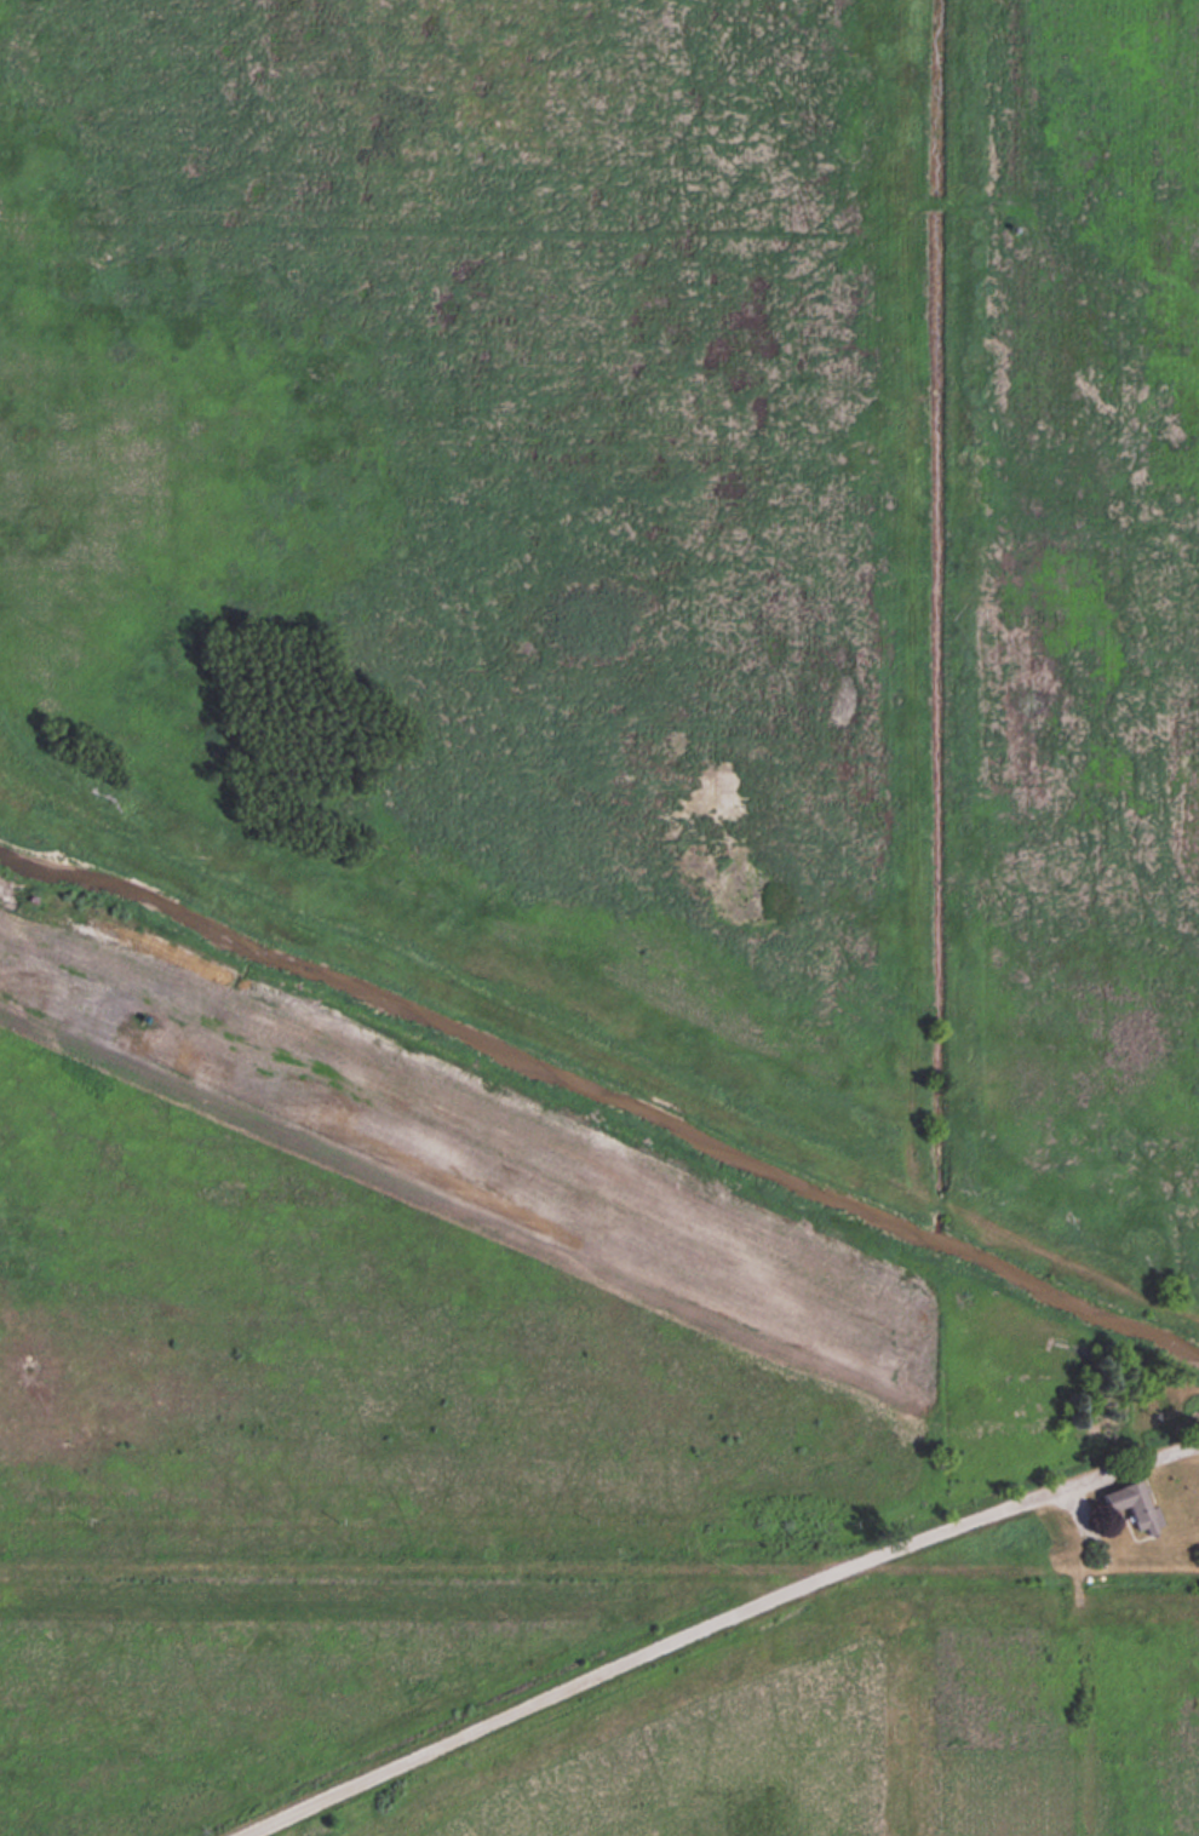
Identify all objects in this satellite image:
building: (1126, 1502)
road: (711, 1618)

